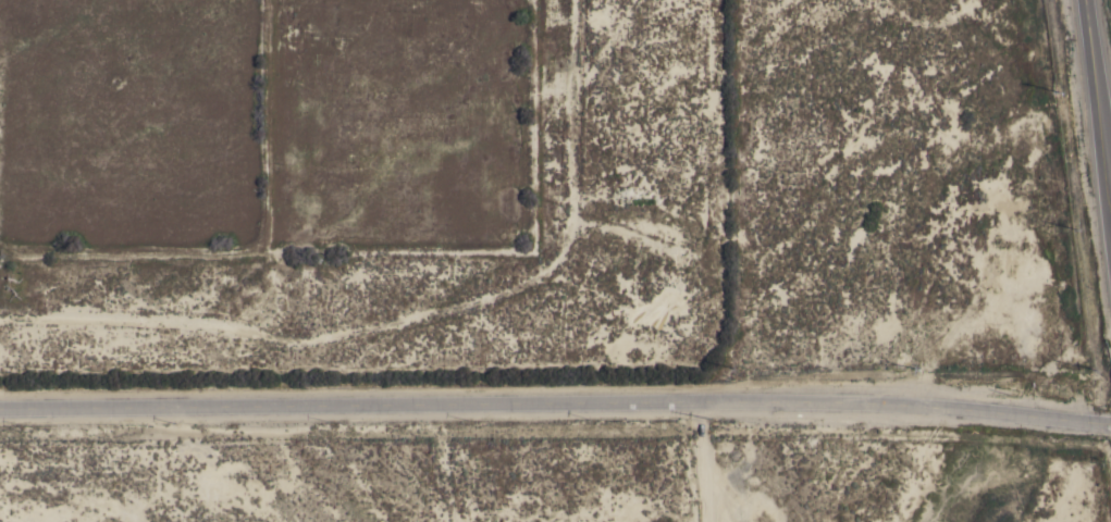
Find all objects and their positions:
road: (1099, 86)
road: (555, 403)
road: (703, 462)

